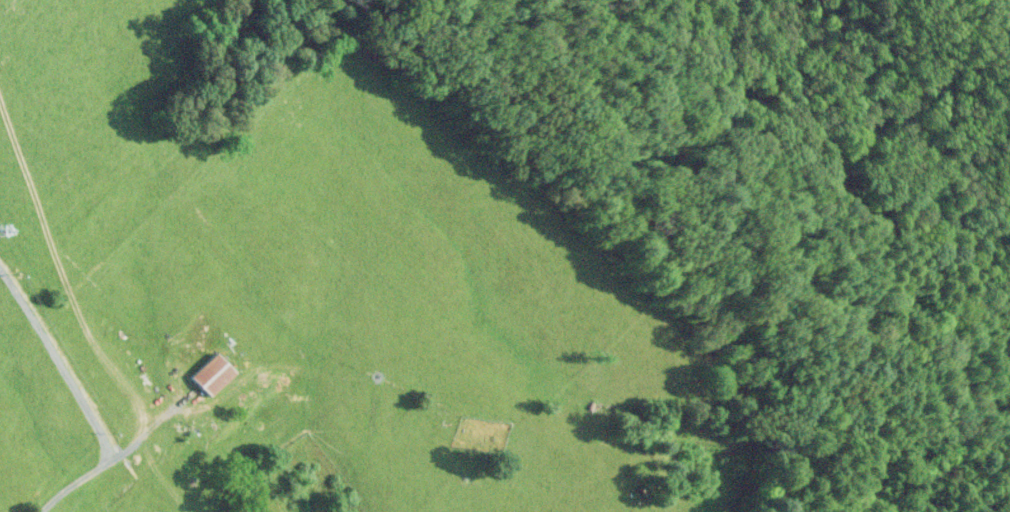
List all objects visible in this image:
building: (213, 374)

